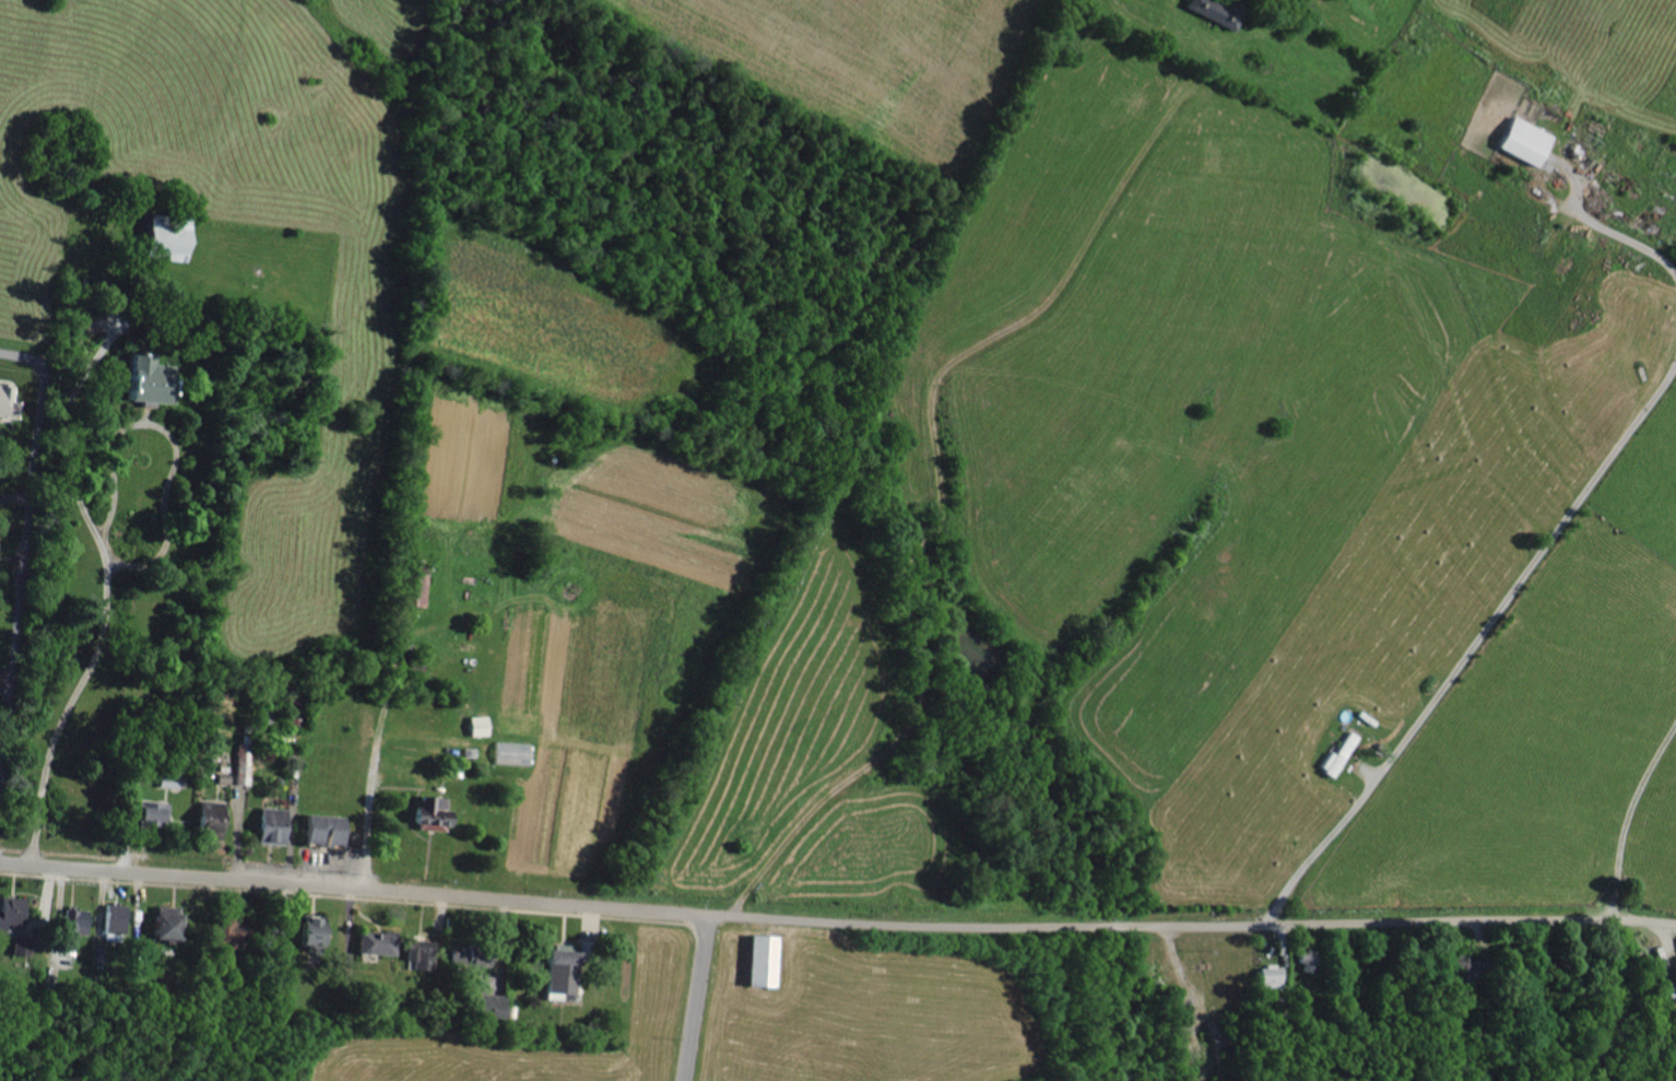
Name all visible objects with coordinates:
building: (1215, 10)
building: (1520, 140)
road: (1633, 240)
road: (22, 360)
building: (141, 380)
building: (5, 402)
road: (105, 536)
road: (24, 562)
building: (404, 583)
road: (1468, 646)
road: (292, 691)
building: (475, 724)
building: (511, 751)
building: (1336, 753)
road: (2, 759)
building: (240, 762)
road: (373, 767)
road: (2, 777)
building: (145, 813)
building: (427, 813)
building: (208, 822)
building: (270, 823)
building: (321, 829)
road: (255, 884)
road: (610, 909)
building: (10, 910)
building: (115, 917)
building: (74, 923)
building: (158, 924)
road: (1193, 928)
building: (223, 935)
building: (374, 941)
building: (418, 953)
building: (470, 959)
building: (754, 959)
building: (559, 968)
building: (1268, 976)
road: (698, 999)
building: (487, 1003)

